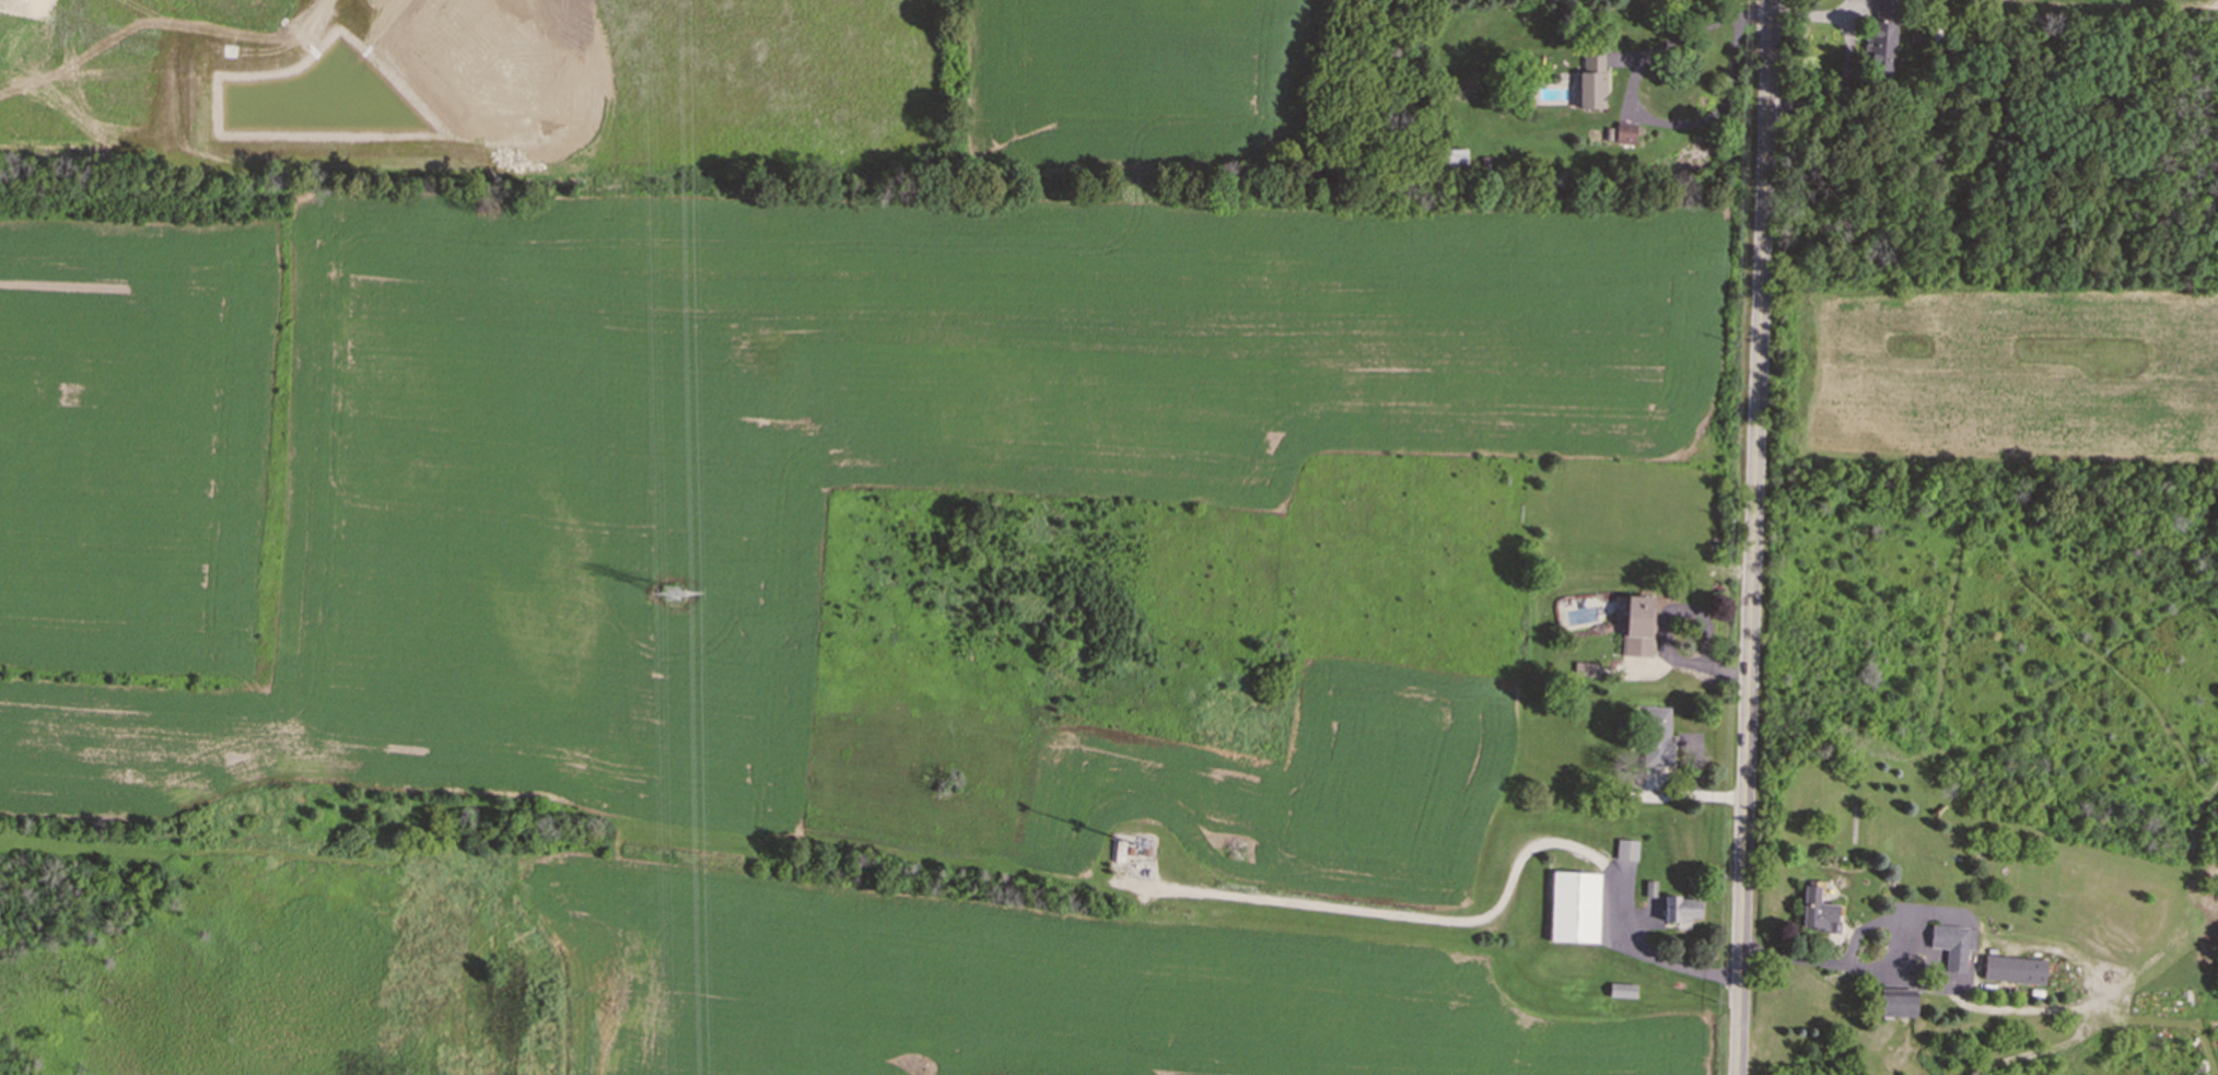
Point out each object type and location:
building: (1882, 37)
building: (1591, 80)
road: (1637, 110)
building: (1624, 132)
road: (1753, 537)
crop: (409, 594)
power tower: (672, 596)
building: (1636, 624)
building: (1585, 668)
building: (1656, 735)
building: (1625, 849)
building: (1573, 907)
building: (1680, 909)
building: (1817, 911)
building: (1953, 945)
road: (1647, 950)
road: (1870, 967)
building: (2012, 969)
building: (1621, 990)
building: (1893, 1003)

